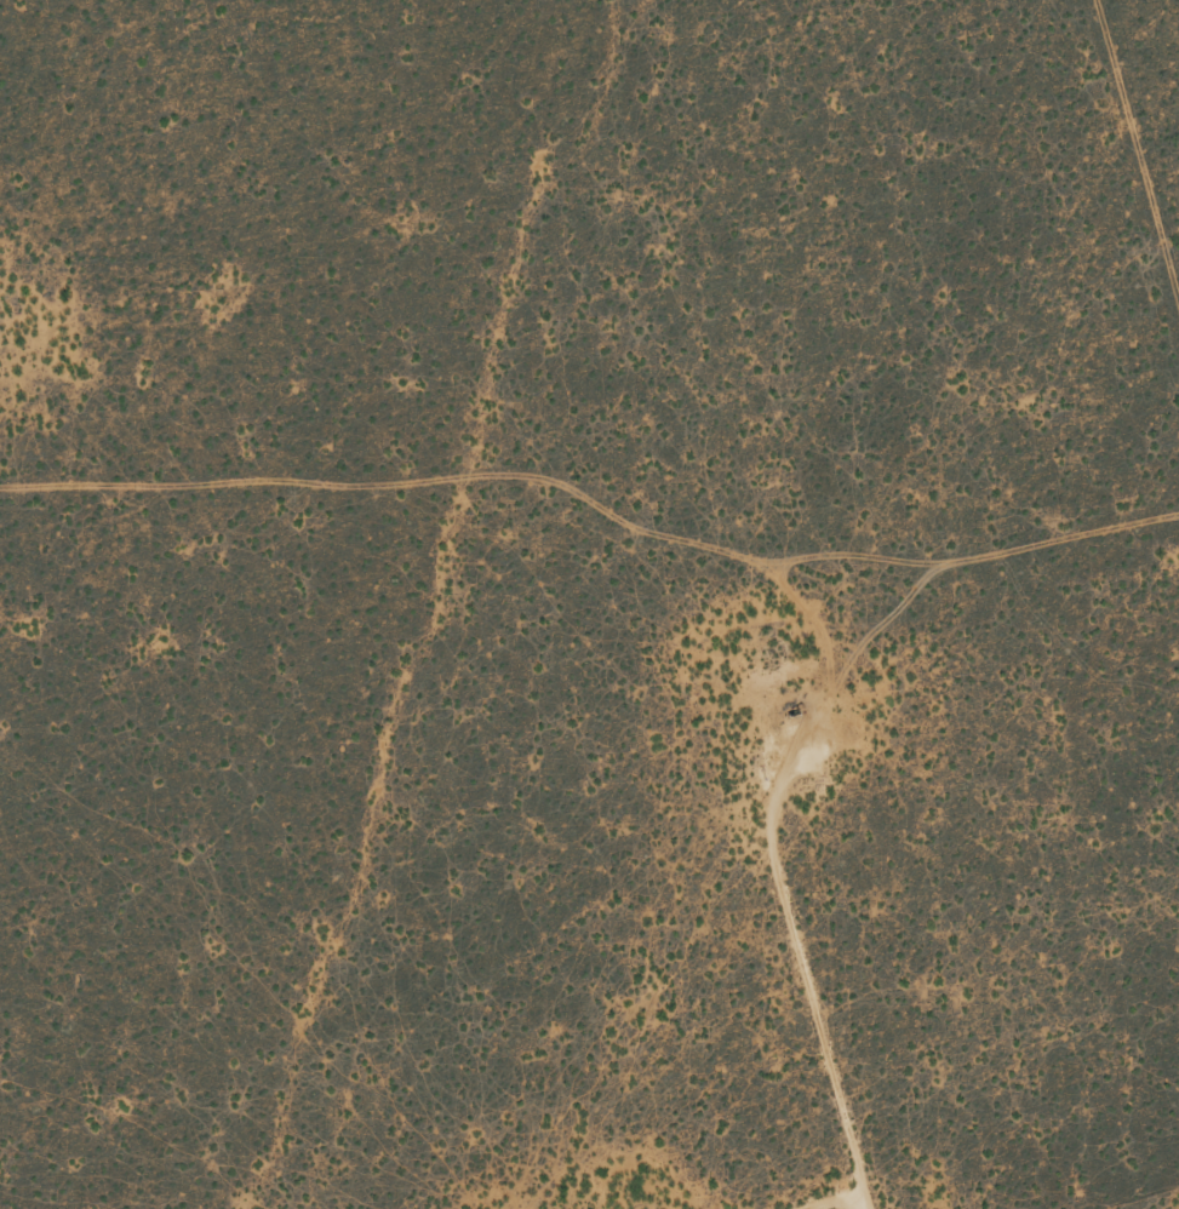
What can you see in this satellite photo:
road: (857, 991)
road: (822, 1190)

